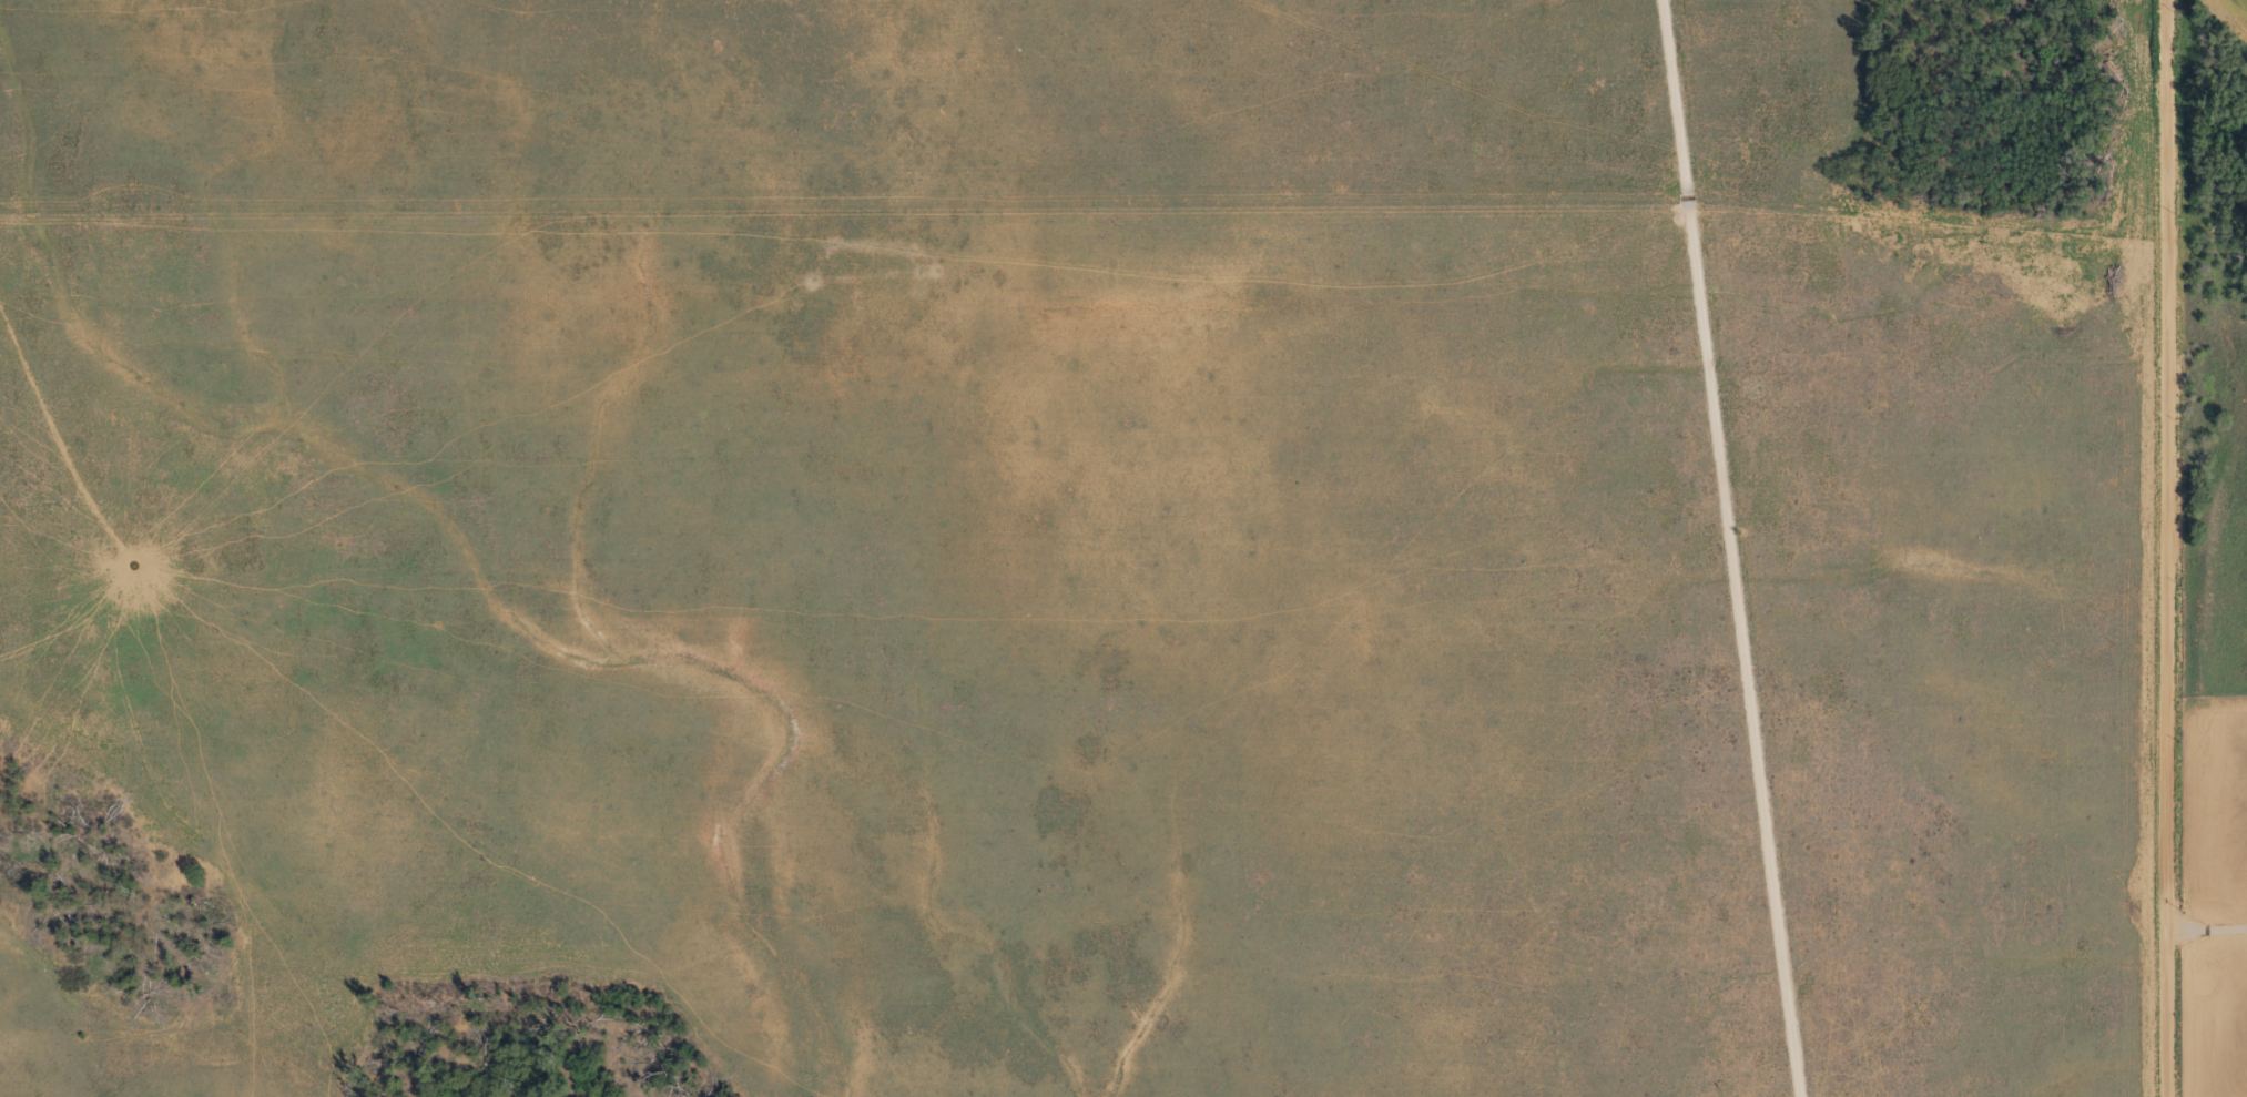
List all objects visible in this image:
road: (2164, 548)

